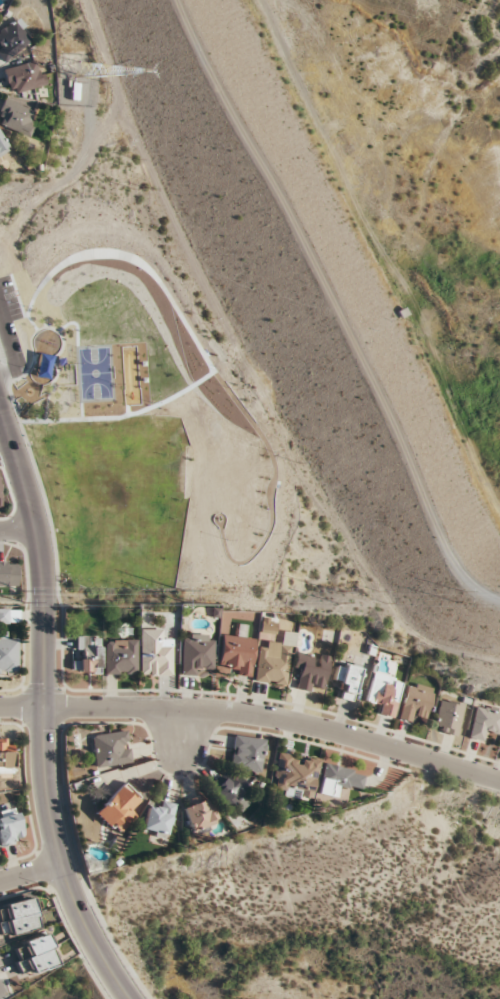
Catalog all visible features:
building: (12, 40)
building: (23, 77)
building: (16, 118)
building: (2, 148)
dam: (338, 297)
park: (152, 402)
building: (0, 489)
road: (17, 532)
building: (9, 574)
building: (9, 616)
building: (196, 653)
building: (155, 654)
building: (8, 655)
building: (88, 655)
building: (236, 656)
building: (120, 657)
building: (273, 663)
building: (311, 671)
building: (346, 680)
building: (385, 695)
building: (416, 701)
road: (254, 712)
road: (44, 714)
building: (449, 717)
building: (485, 723)
road: (186, 730)
building: (111, 749)
building: (247, 754)
building: (6, 755)
road: (144, 771)
building: (295, 776)
building: (339, 780)
building: (230, 792)
building: (118, 808)
building: (200, 816)
building: (159, 818)
building: (11, 827)
road: (30, 873)
building: (17, 918)
building: (31, 955)

